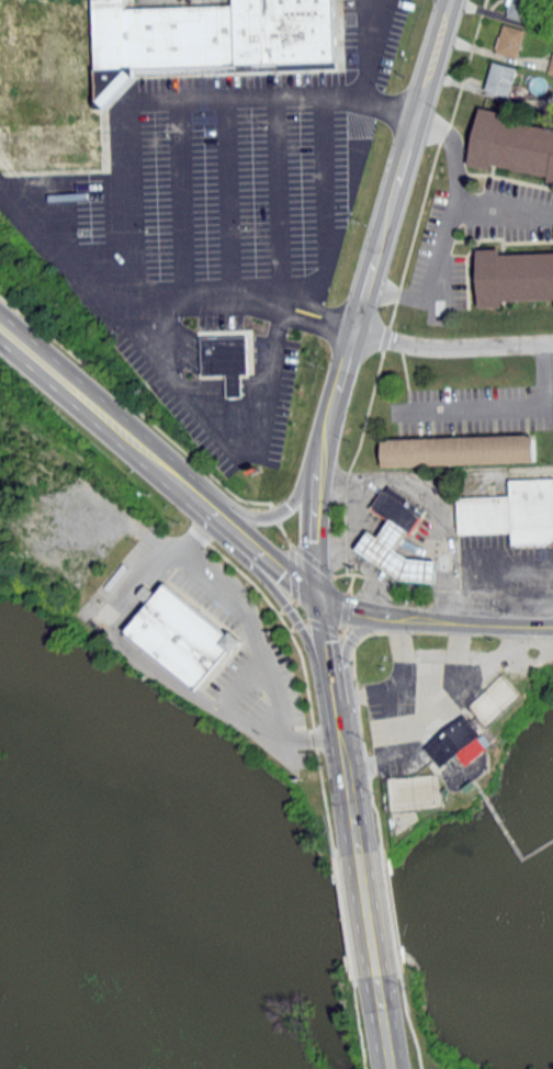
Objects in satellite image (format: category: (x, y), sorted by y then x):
building: (210, 36)
road: (369, 48)
road: (269, 95)
road: (227, 196)
road: (181, 198)
road: (278, 200)
road: (127, 204)
road: (324, 210)
road: (501, 210)
road: (448, 225)
parking lot: (217, 227)
road: (362, 295)
road: (116, 297)
road: (318, 308)
road: (313, 323)
road: (154, 345)
road: (451, 345)
building: (225, 360)
road: (224, 384)
road: (490, 405)
parking lot: (479, 406)
road: (115, 420)
road: (262, 429)
road: (435, 502)
road: (273, 513)
road: (275, 559)
road: (365, 567)
road: (136, 577)
parking lot: (505, 577)
building: (145, 594)
traffic signals: (320, 597)
road: (283, 600)
road: (433, 623)
building: (178, 635)
road: (257, 635)
road: (327, 640)
road: (347, 644)
road: (240, 680)
road: (192, 691)
building: (459, 742)
road: (345, 767)
road: (366, 912)
road: (384, 1022)

